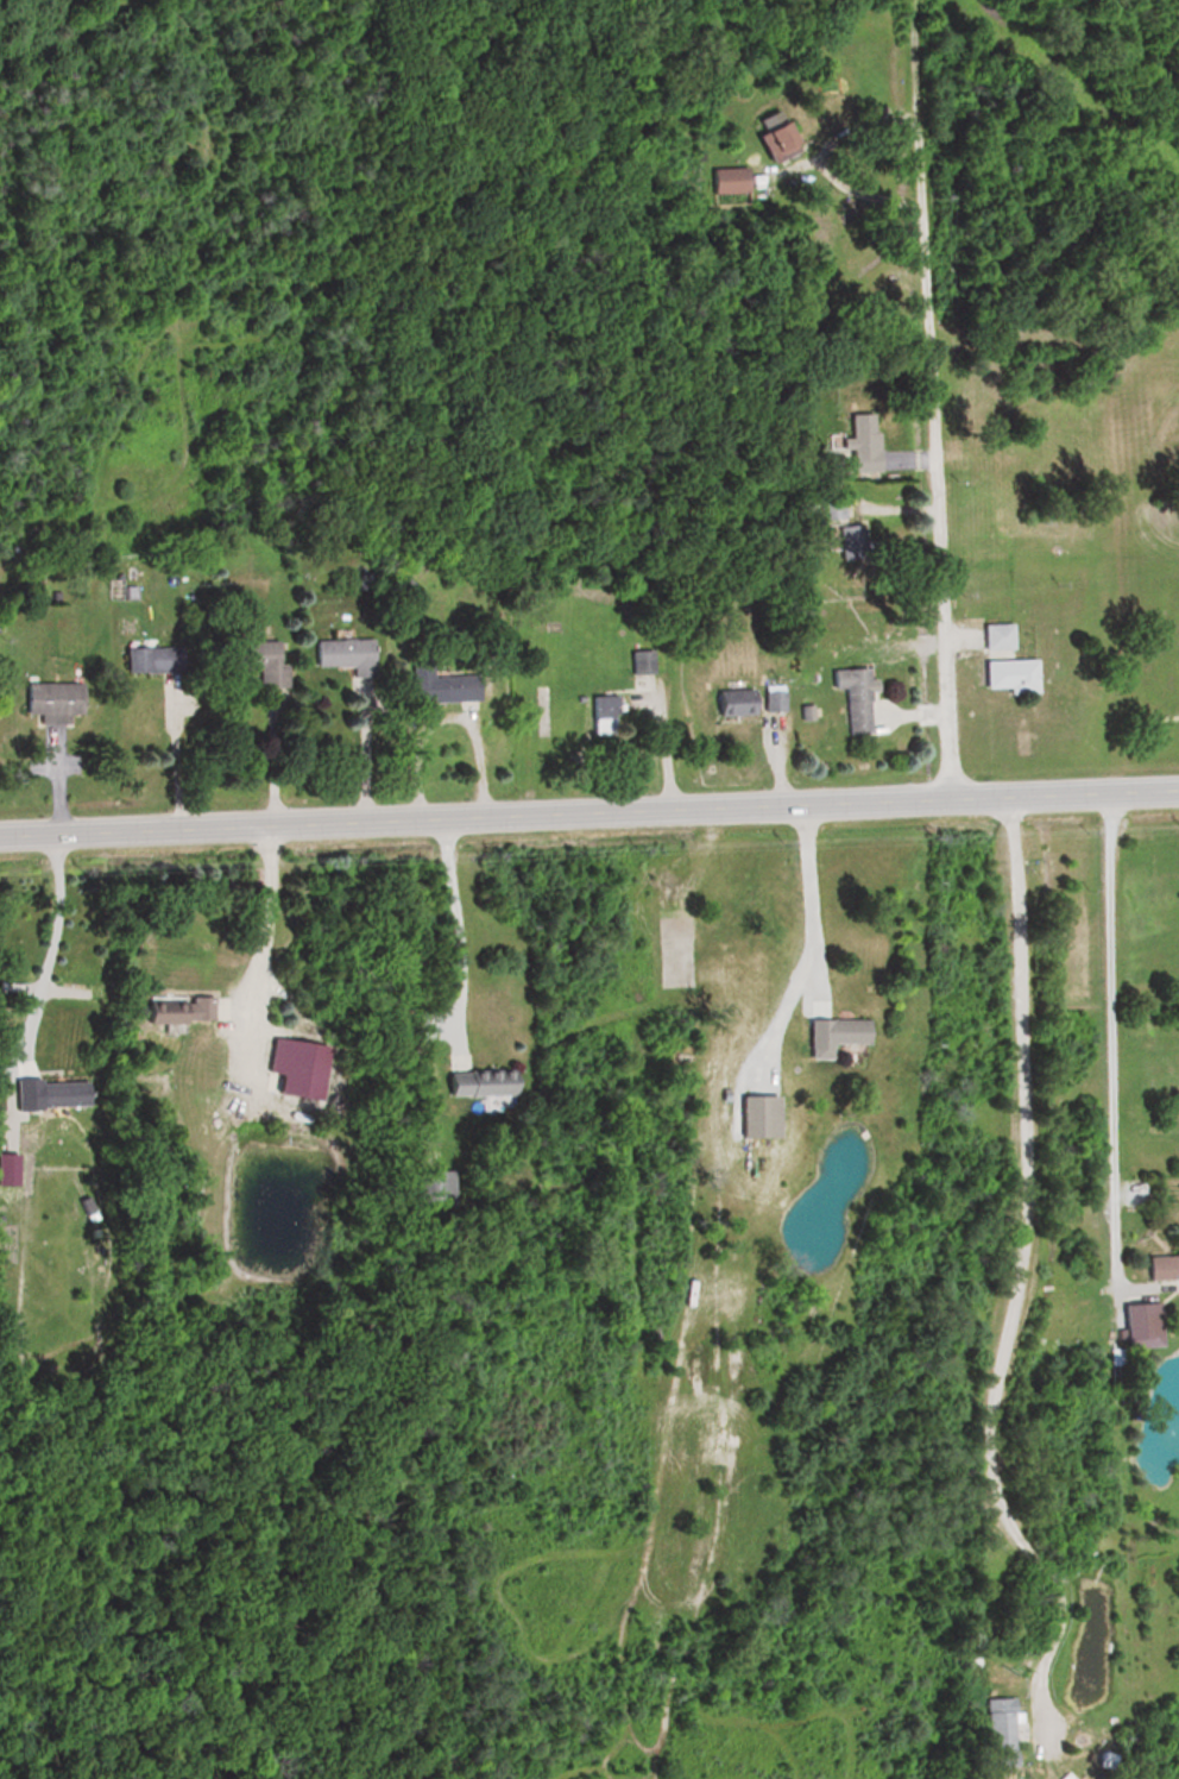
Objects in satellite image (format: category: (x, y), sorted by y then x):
building: (773, 137)
building: (731, 181)
road: (852, 189)
road: (933, 398)
building: (858, 444)
building: (832, 508)
building: (132, 579)
building: (996, 637)
building: (343, 655)
building: (256, 661)
building: (643, 664)
building: (1008, 677)
building: (445, 690)
building: (853, 699)
building: (52, 703)
building: (733, 703)
building: (775, 703)
road: (658, 746)
road: (361, 754)
road: (170, 758)
road: (589, 811)
road: (809, 895)
road: (459, 931)
road: (51, 957)
road: (259, 962)
building: (174, 1008)
building: (836, 1032)
road: (1112, 1038)
building: (480, 1083)
building: (440, 1183)
building: (1161, 1266)
road: (1021, 1280)
building: (1140, 1325)
building: (998, 1733)

